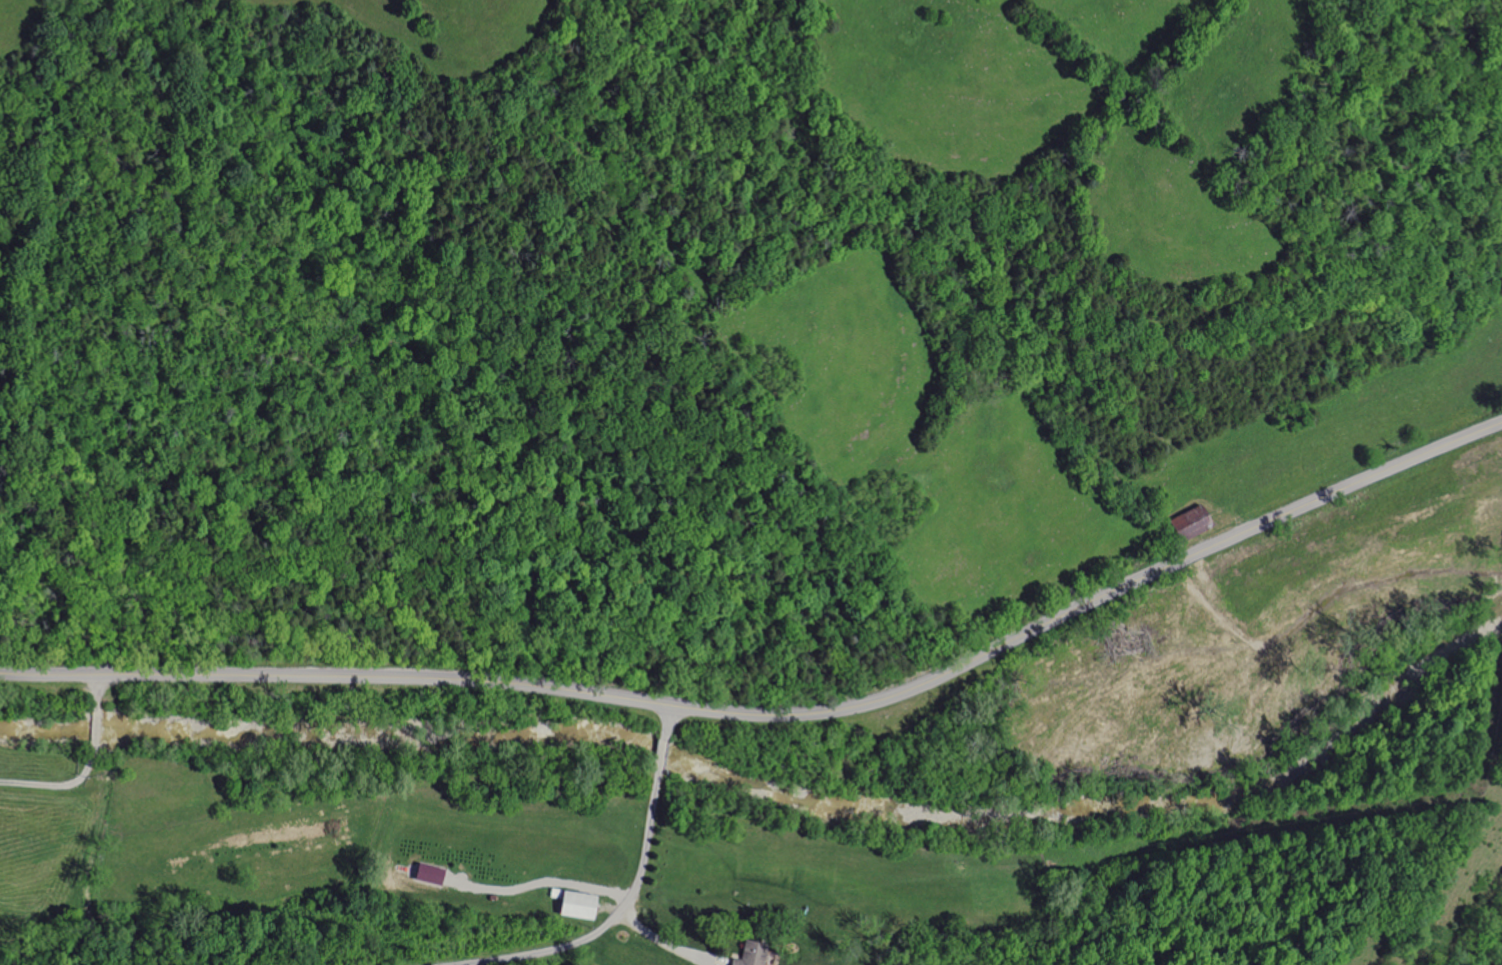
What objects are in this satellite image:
building: (1187, 523)
road: (780, 713)
road: (89, 768)
road: (1103, 795)
road: (632, 888)
building: (570, 904)
road: (660, 940)
building: (746, 954)

